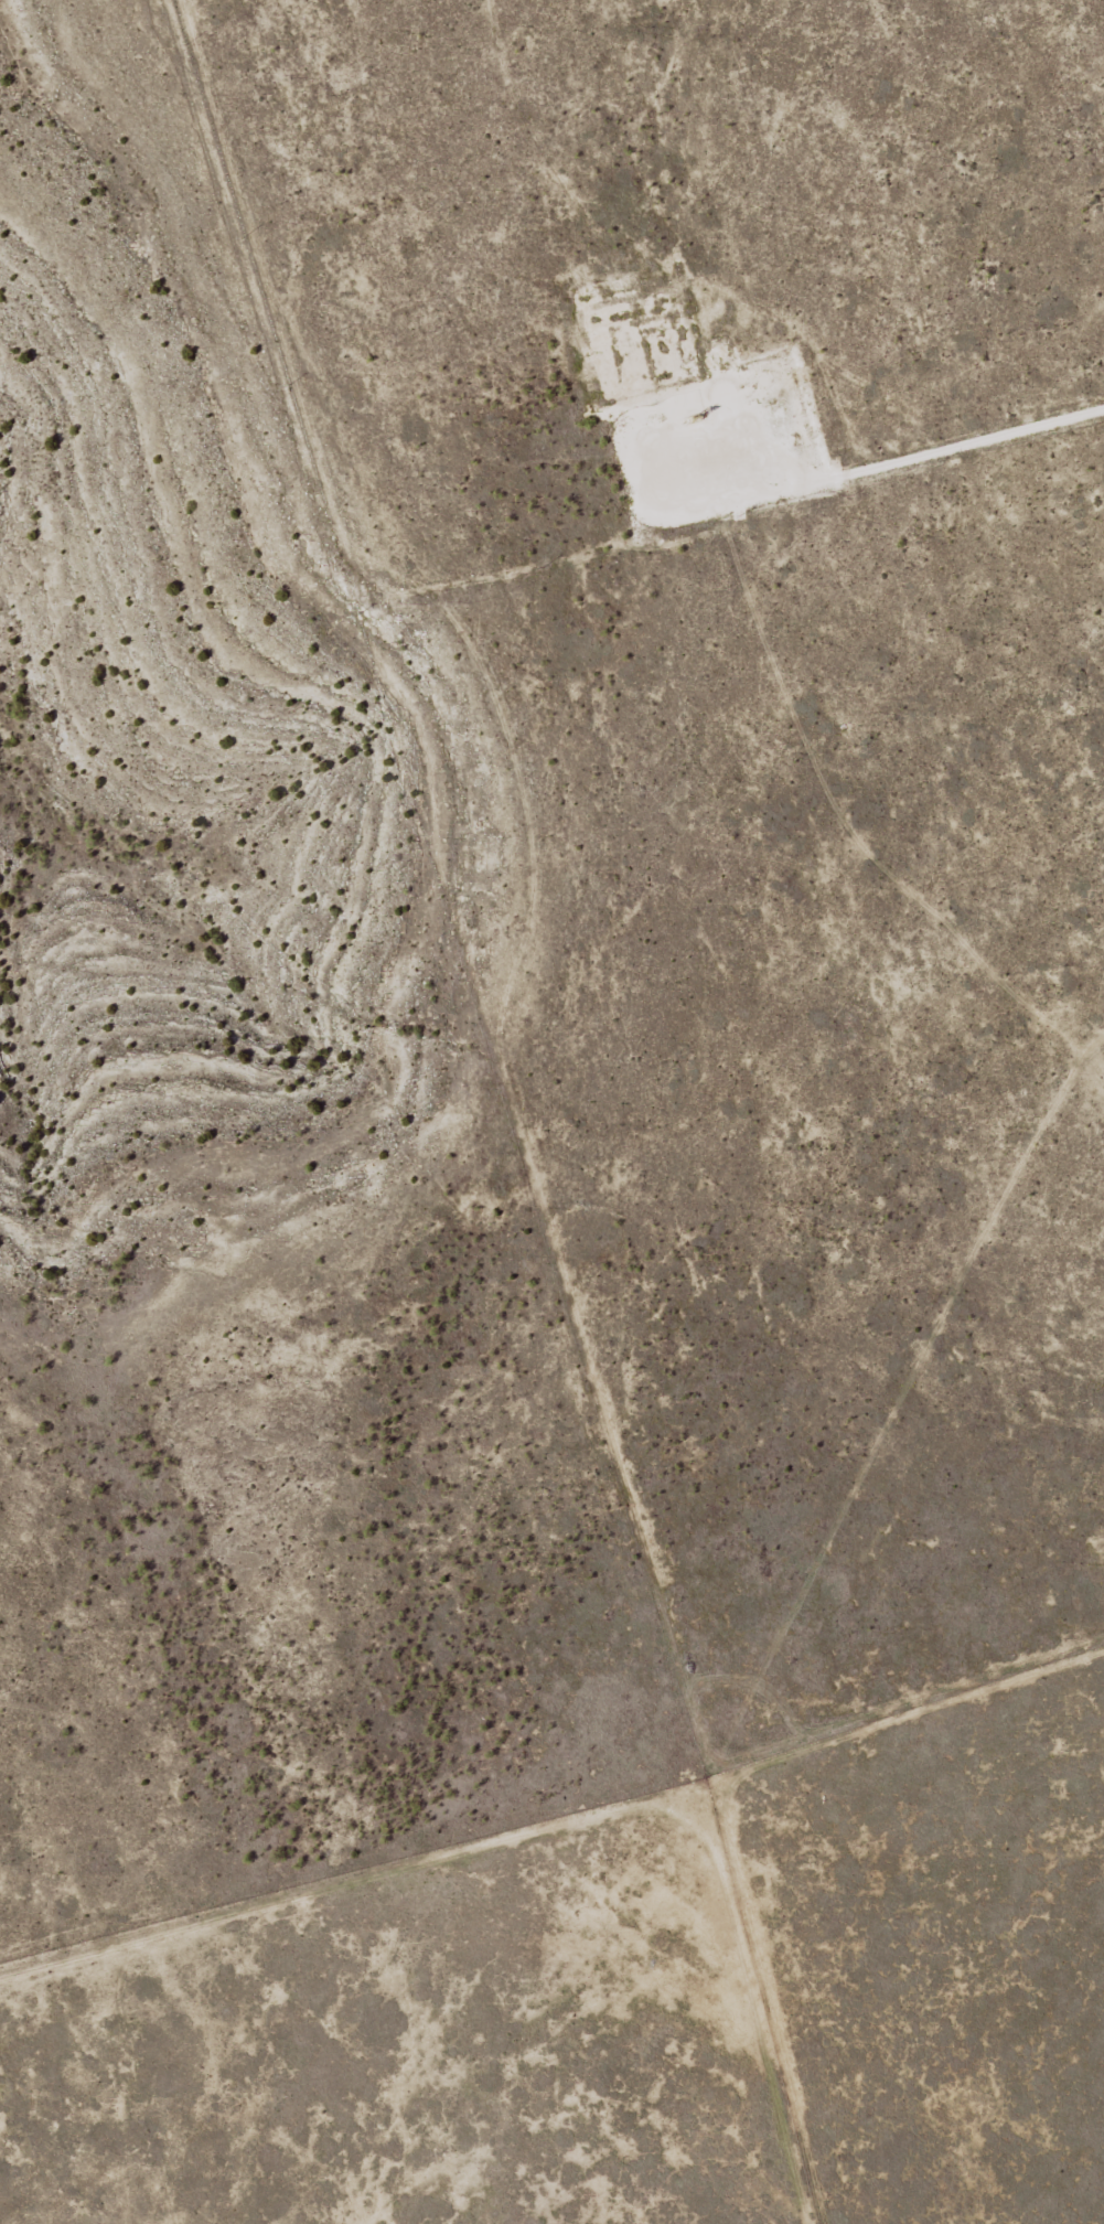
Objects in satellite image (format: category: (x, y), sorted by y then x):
road: (736, 521)
road: (550, 1864)

